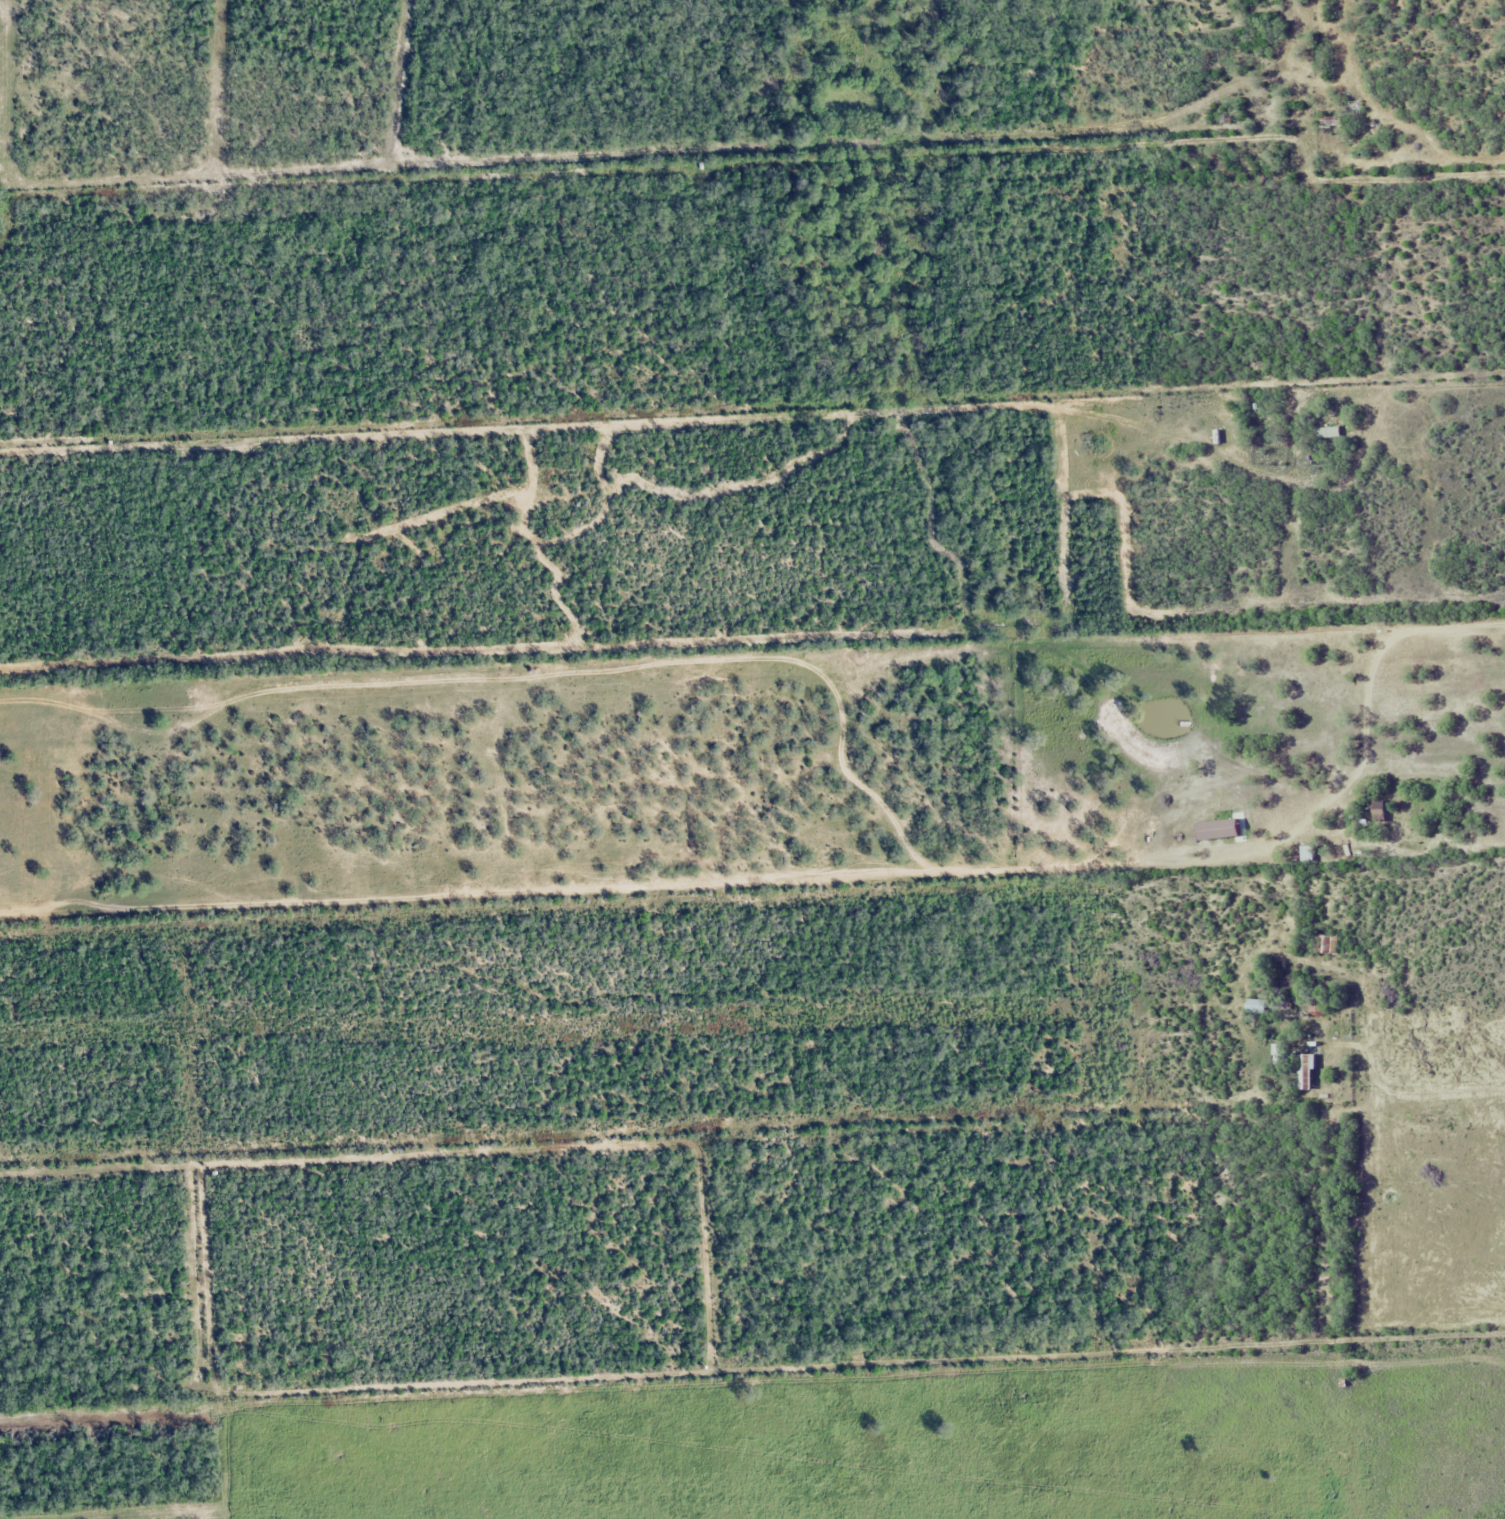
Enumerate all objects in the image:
building: (1329, 431)
building: (1381, 810)
building: (1310, 852)
building: (1260, 1006)
building: (1283, 1054)
building: (1308, 1071)

